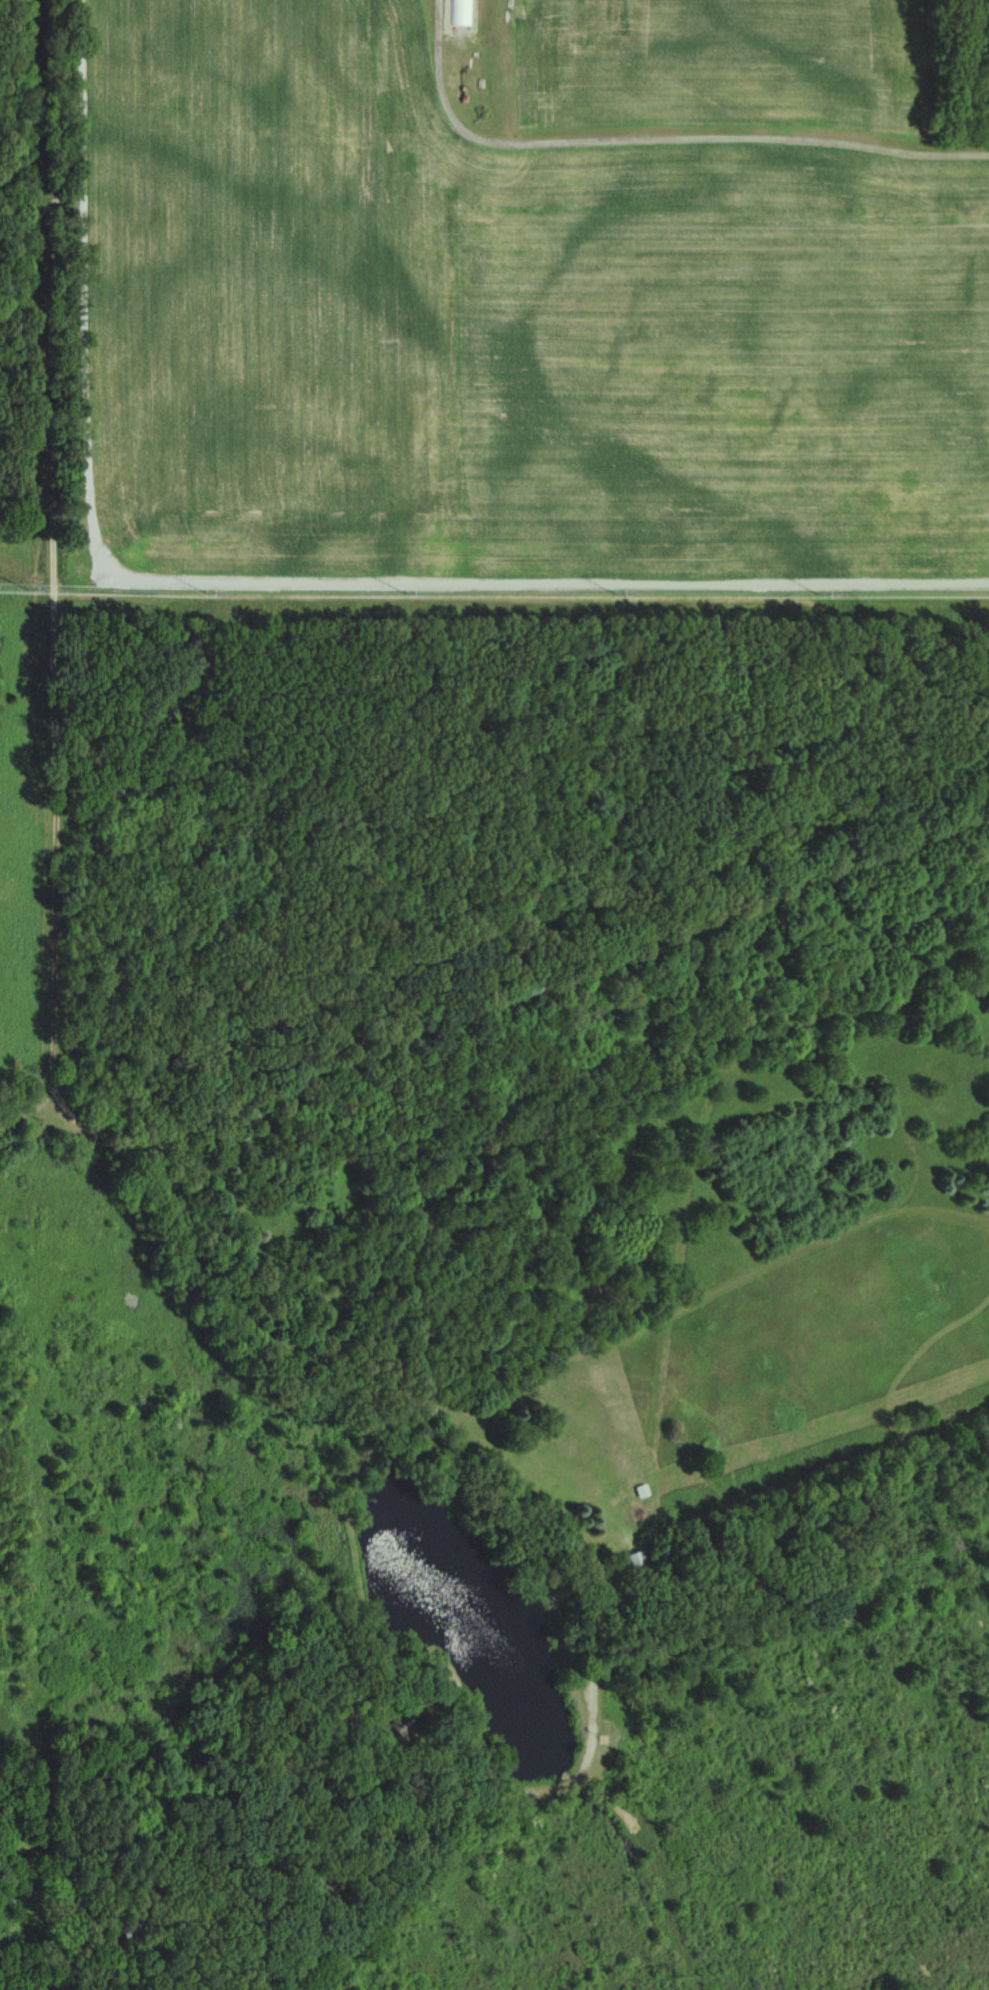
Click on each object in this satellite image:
building: (460, 12)
road: (209, 630)
building: (631, 1566)
building: (128, 1927)

